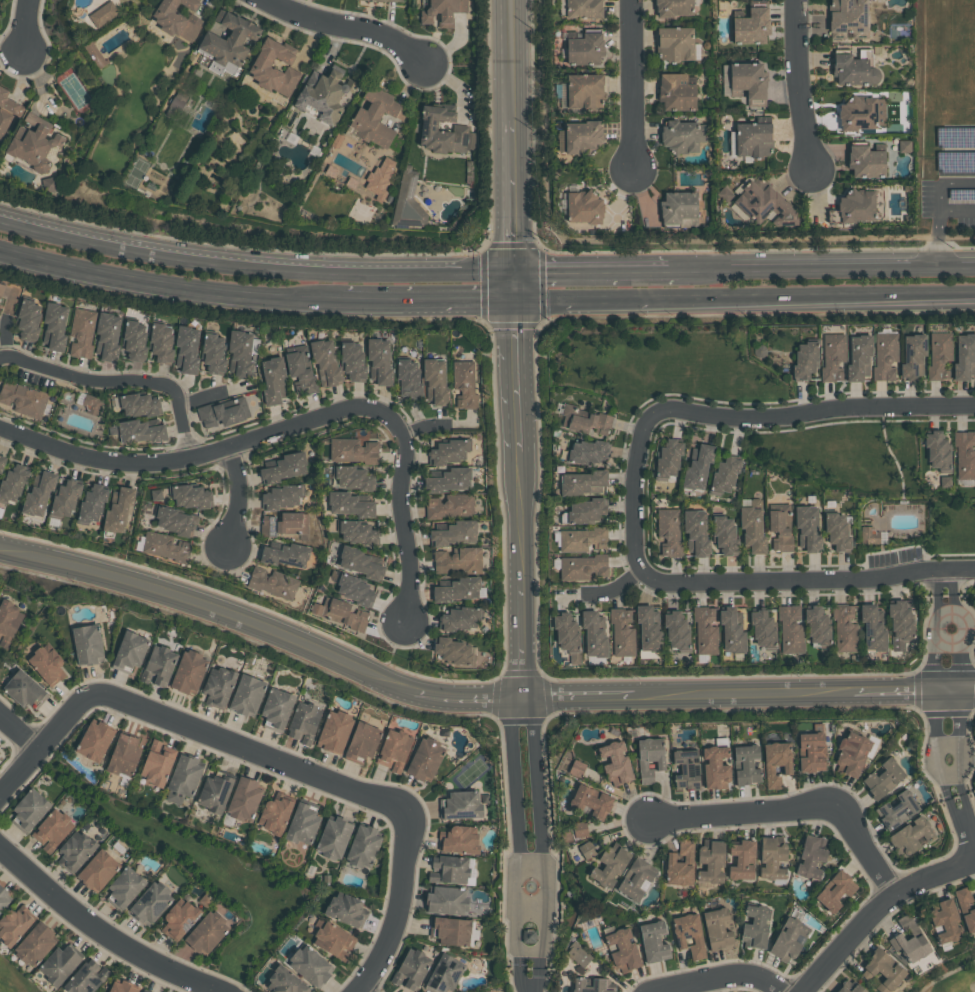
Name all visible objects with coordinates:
building: (387, 1)
building: (580, 8)
building: (673, 8)
building: (442, 12)
building: (104, 13)
road: (25, 19)
building: (177, 19)
building: (848, 19)
road: (359, 24)
building: (751, 27)
building: (229, 40)
building: (674, 45)
building: (583, 49)
building: (96, 53)
road: (510, 59)
building: (273, 69)
building: (853, 69)
building: (748, 83)
road: (799, 85)
road: (635, 86)
building: (584, 92)
building: (676, 93)
building: (321, 96)
building: (177, 104)
building: (6, 113)
building: (861, 113)
building: (375, 118)
building: (441, 131)
building: (679, 137)
building: (581, 138)
building: (336, 141)
building: (752, 141)
building: (32, 144)
building: (905, 145)
building: (865, 162)
building: (379, 180)
building: (49, 185)
road: (511, 194)
road: (939, 198)
building: (407, 202)
building: (765, 203)
building: (856, 207)
building: (584, 208)
building: (678, 209)
road: (72, 234)
road: (937, 237)
road: (826, 264)
road: (327, 268)
road: (595, 268)
road: (511, 284)
road: (169, 285)
traffic signals: (511, 286)
building: (2, 288)
road: (821, 295)
road: (589, 298)
road: (475, 301)
road: (390, 302)
building: (29, 319)
building: (55, 326)
building: (82, 331)
building: (108, 335)
building: (135, 339)
building: (162, 342)
building: (187, 349)
building: (214, 352)
building: (240, 352)
building: (884, 356)
building: (938, 356)
building: (832, 357)
building: (912, 357)
building: (964, 357)
building: (857, 358)
building: (326, 361)
building: (354, 361)
building: (380, 361)
building: (804, 361)
building: (301, 368)
building: (409, 378)
road: (121, 380)
building: (273, 380)
building: (436, 380)
building: (464, 385)
building: (23, 397)
building: (89, 402)
building: (140, 404)
building: (221, 413)
road: (809, 414)
building: (585, 421)
building: (141, 430)
building: (354, 450)
building: (449, 452)
building: (938, 452)
building: (587, 453)
road: (203, 454)
road: (892, 454)
building: (964, 454)
building: (668, 459)
building: (2, 462)
building: (285, 467)
building: (697, 468)
building: (724, 475)
building: (354, 477)
building: (447, 481)
building: (946, 481)
building: (13, 482)
building: (582, 483)
park: (873, 485)
building: (39, 494)
building: (157, 494)
road: (238, 494)
road: (632, 494)
building: (191, 495)
building: (284, 496)
building: (66, 498)
road: (516, 498)
building: (93, 503)
building: (351, 504)
building: (450, 506)
building: (119, 509)
building: (586, 512)
building: (176, 519)
building: (286, 522)
road: (406, 527)
building: (779, 527)
building: (806, 528)
building: (752, 530)
building: (358, 531)
building: (669, 532)
building: (836, 532)
building: (695, 533)
building: (454, 534)
building: (724, 536)
building: (868, 536)
building: (582, 539)
building: (166, 545)
building: (286, 554)
building: (458, 561)
building: (361, 562)
building: (583, 567)
road: (805, 579)
road: (952, 582)
building: (273, 583)
road: (603, 588)
building: (355, 589)
building: (456, 590)
road: (944, 608)
building: (341, 612)
building: (459, 620)
park: (968, 620)
building: (9, 621)
building: (900, 624)
building: (817, 626)
building: (844, 628)
building: (872, 628)
building: (648, 629)
building: (762, 629)
building: (790, 629)
building: (705, 630)
building: (676, 631)
building: (731, 631)
building: (621, 632)
building: (594, 635)
building: (567, 637)
road: (955, 641)
road: (944, 642)
building: (88, 643)
building: (131, 649)
building: (454, 653)
building: (48, 664)
building: (159, 665)
building: (189, 671)
building: (219, 685)
road: (933, 686)
building: (26, 689)
building: (247, 694)
road: (474, 696)
building: (277, 708)
building: (304, 721)
road: (190, 724)
road: (20, 730)
building: (335, 731)
building: (95, 739)
building: (363, 741)
road: (957, 741)
road: (946, 743)
building: (394, 748)
building: (0, 751)
building: (810, 753)
building: (124, 754)
building: (850, 755)
building: (426, 758)
building: (648, 759)
building: (157, 763)
building: (614, 764)
building: (776, 764)
building: (745, 765)
building: (714, 768)
building: (576, 769)
building: (685, 770)
building: (184, 777)
road: (950, 778)
building: (883, 779)
building: (216, 791)
building: (245, 798)
building: (590, 802)
building: (462, 804)
road: (797, 804)
building: (30, 809)
building: (896, 811)
road: (968, 814)
building: (275, 815)
building: (304, 823)
road: (516, 827)
road: (541, 827)
building: (53, 829)
road: (959, 829)
building: (579, 830)
building: (335, 837)
building: (910, 837)
building: (459, 839)
building: (364, 845)
building: (76, 849)
building: (587, 850)
building: (811, 857)
building: (771, 858)
building: (741, 861)
road: (530, 862)
building: (710, 862)
building: (679, 865)
building: (609, 867)
building: (449, 868)
building: (98, 870)
building: (635, 879)
building: (125, 887)
building: (834, 892)
building: (3, 897)
building: (448, 900)
building: (151, 902)
road: (401, 907)
road: (531, 907)
building: (346, 909)
building: (965, 909)
road: (878, 910)
building: (180, 918)
building: (945, 923)
building: (14, 925)
building: (754, 927)
building: (453, 930)
building: (716, 930)
road: (105, 931)
building: (207, 931)
building: (688, 935)
building: (528, 937)
building: (335, 940)
building: (788, 941)
building: (653, 942)
building: (36, 943)
building: (910, 948)
road: (529, 950)
building: (622, 951)
building: (577, 955)
building: (60, 964)
building: (311, 964)
building: (411, 969)
building: (882, 971)
building: (445, 973)
road: (729, 974)
road: (521, 976)
park: (950, 976)
building: (87, 977)
road: (539, 977)
park: (15, 978)
building: (286, 981)
building: (592, 985)
building: (124, 987)
building: (849, 987)
building: (144, 991)

